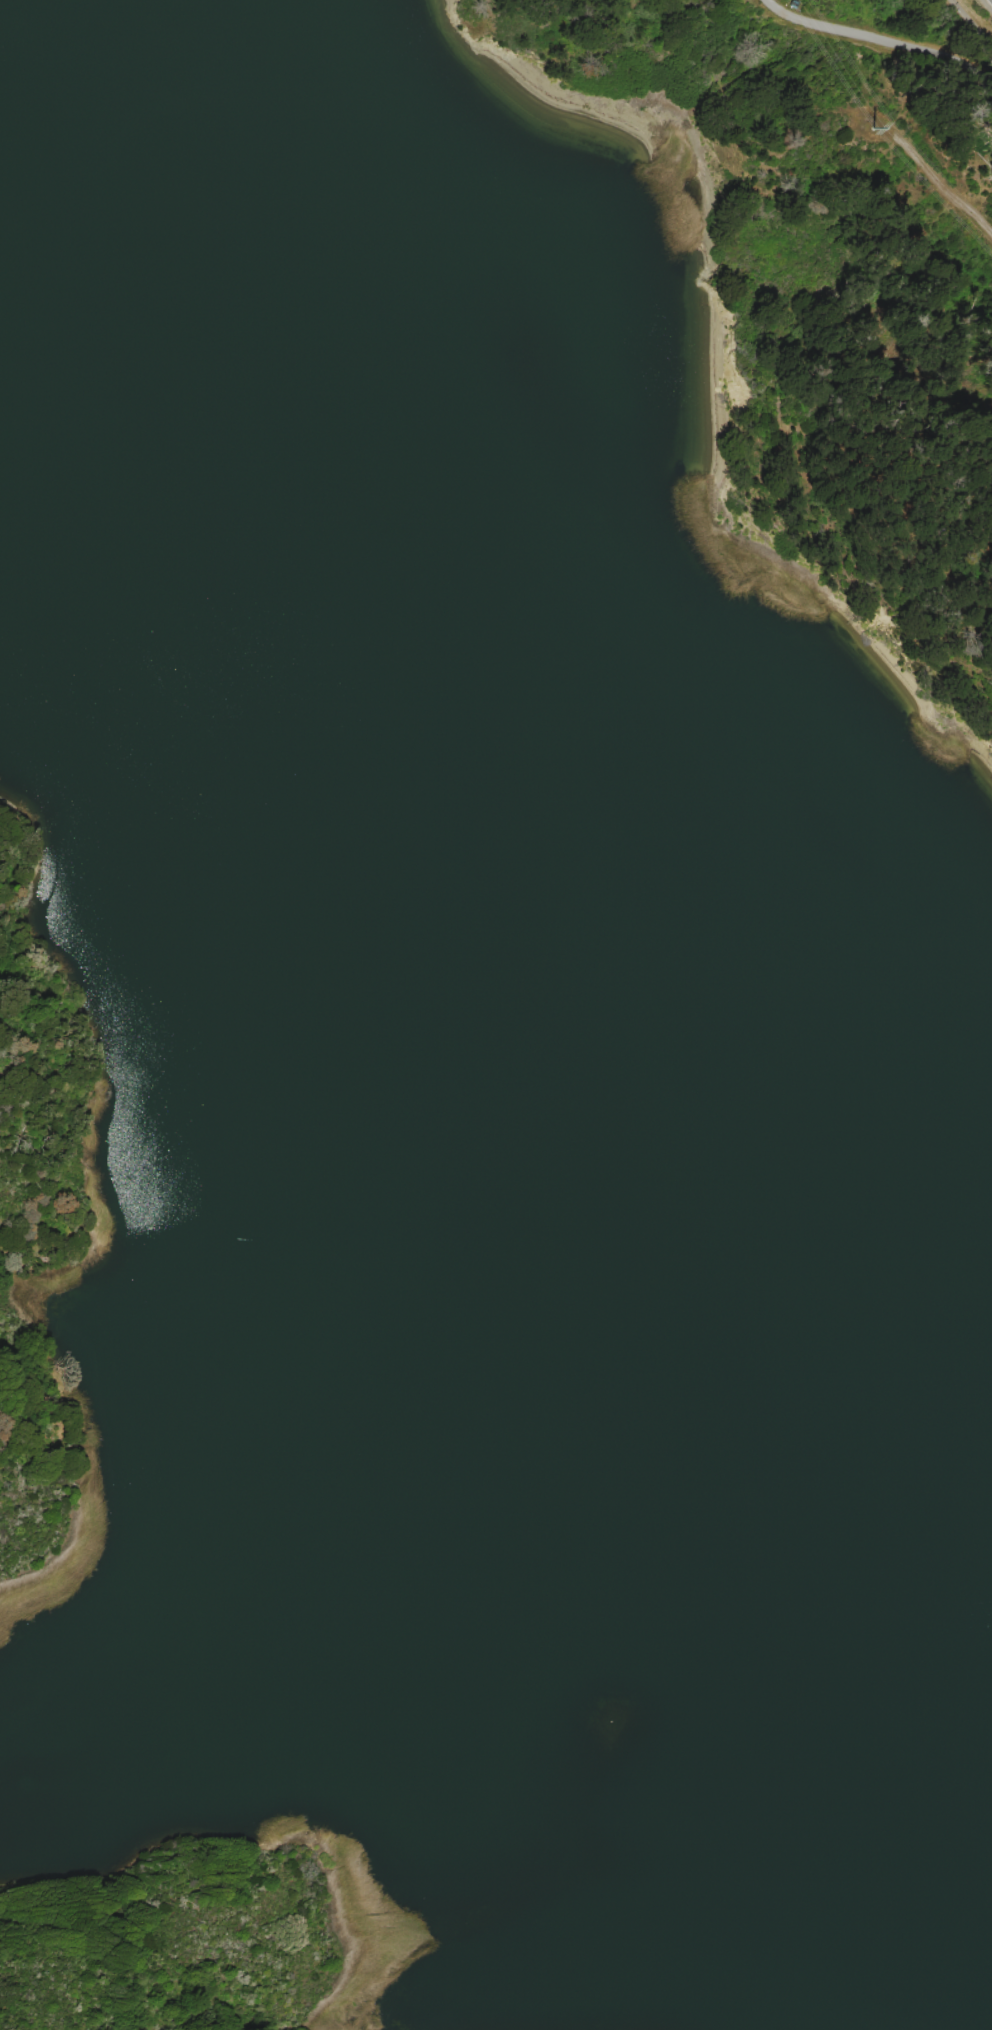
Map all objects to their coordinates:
road: (991, 0)
road: (971, 23)
road: (878, 39)
power tower: (871, 128)
road: (937, 189)

